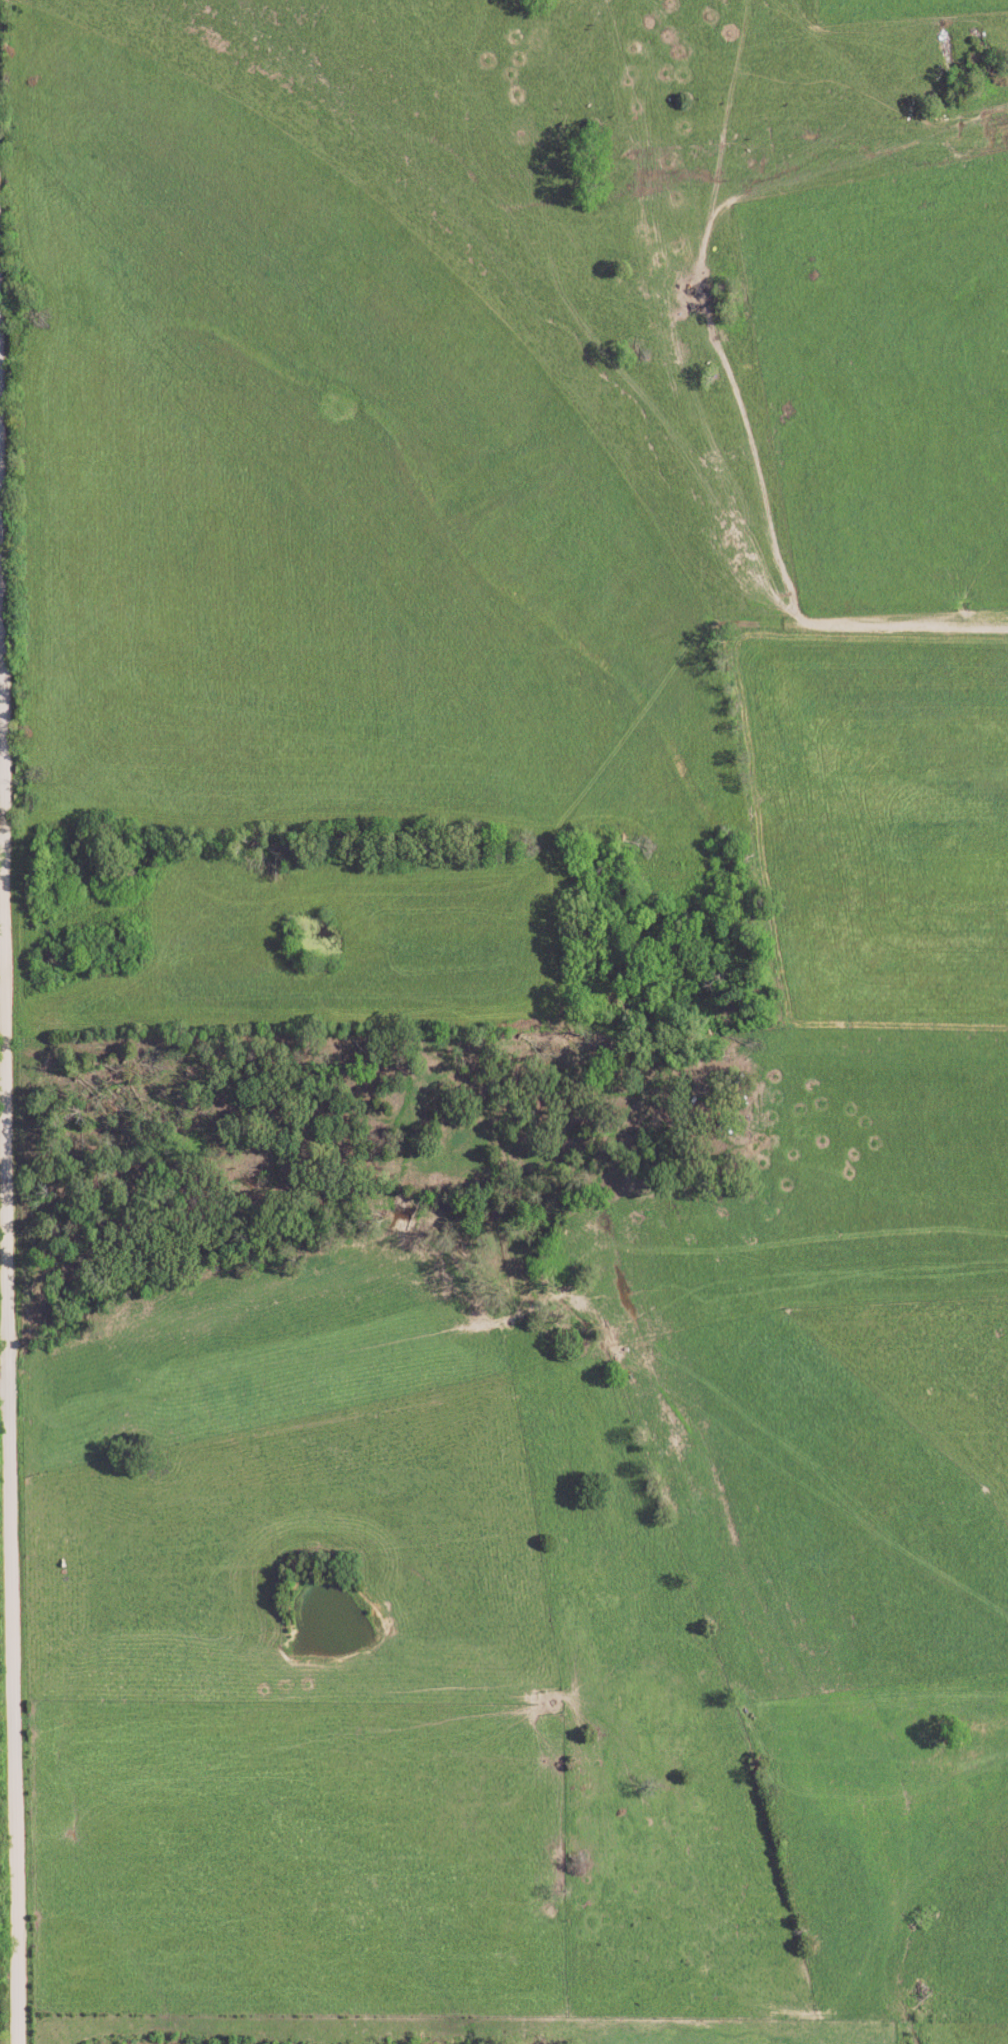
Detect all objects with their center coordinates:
road: (4, 1164)

